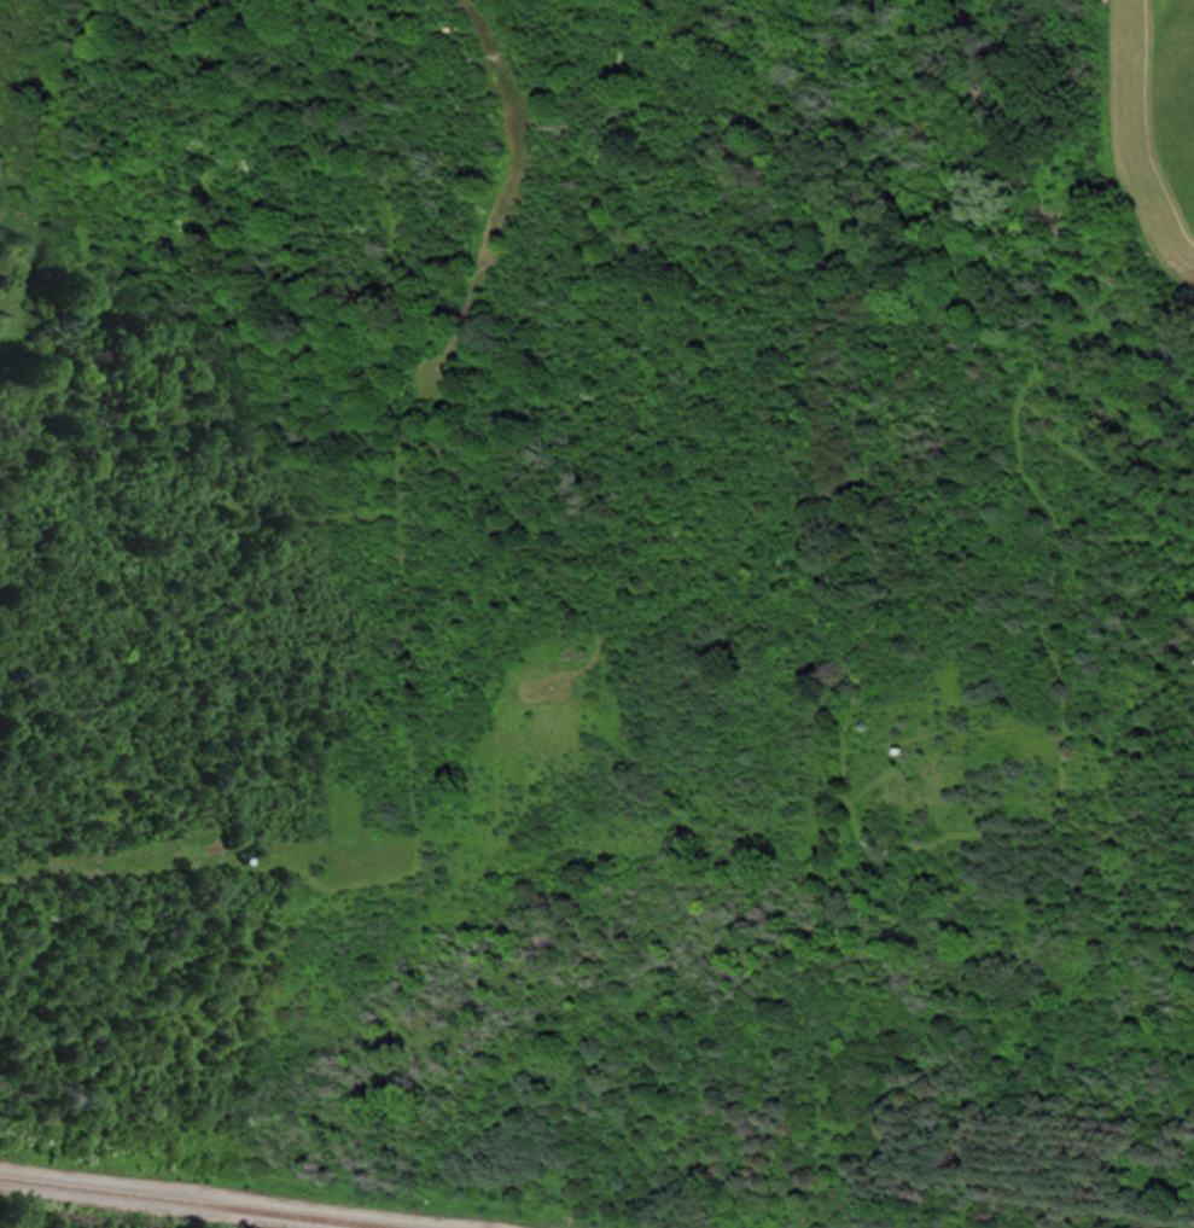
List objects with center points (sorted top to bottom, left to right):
railway: (197, 1203)

